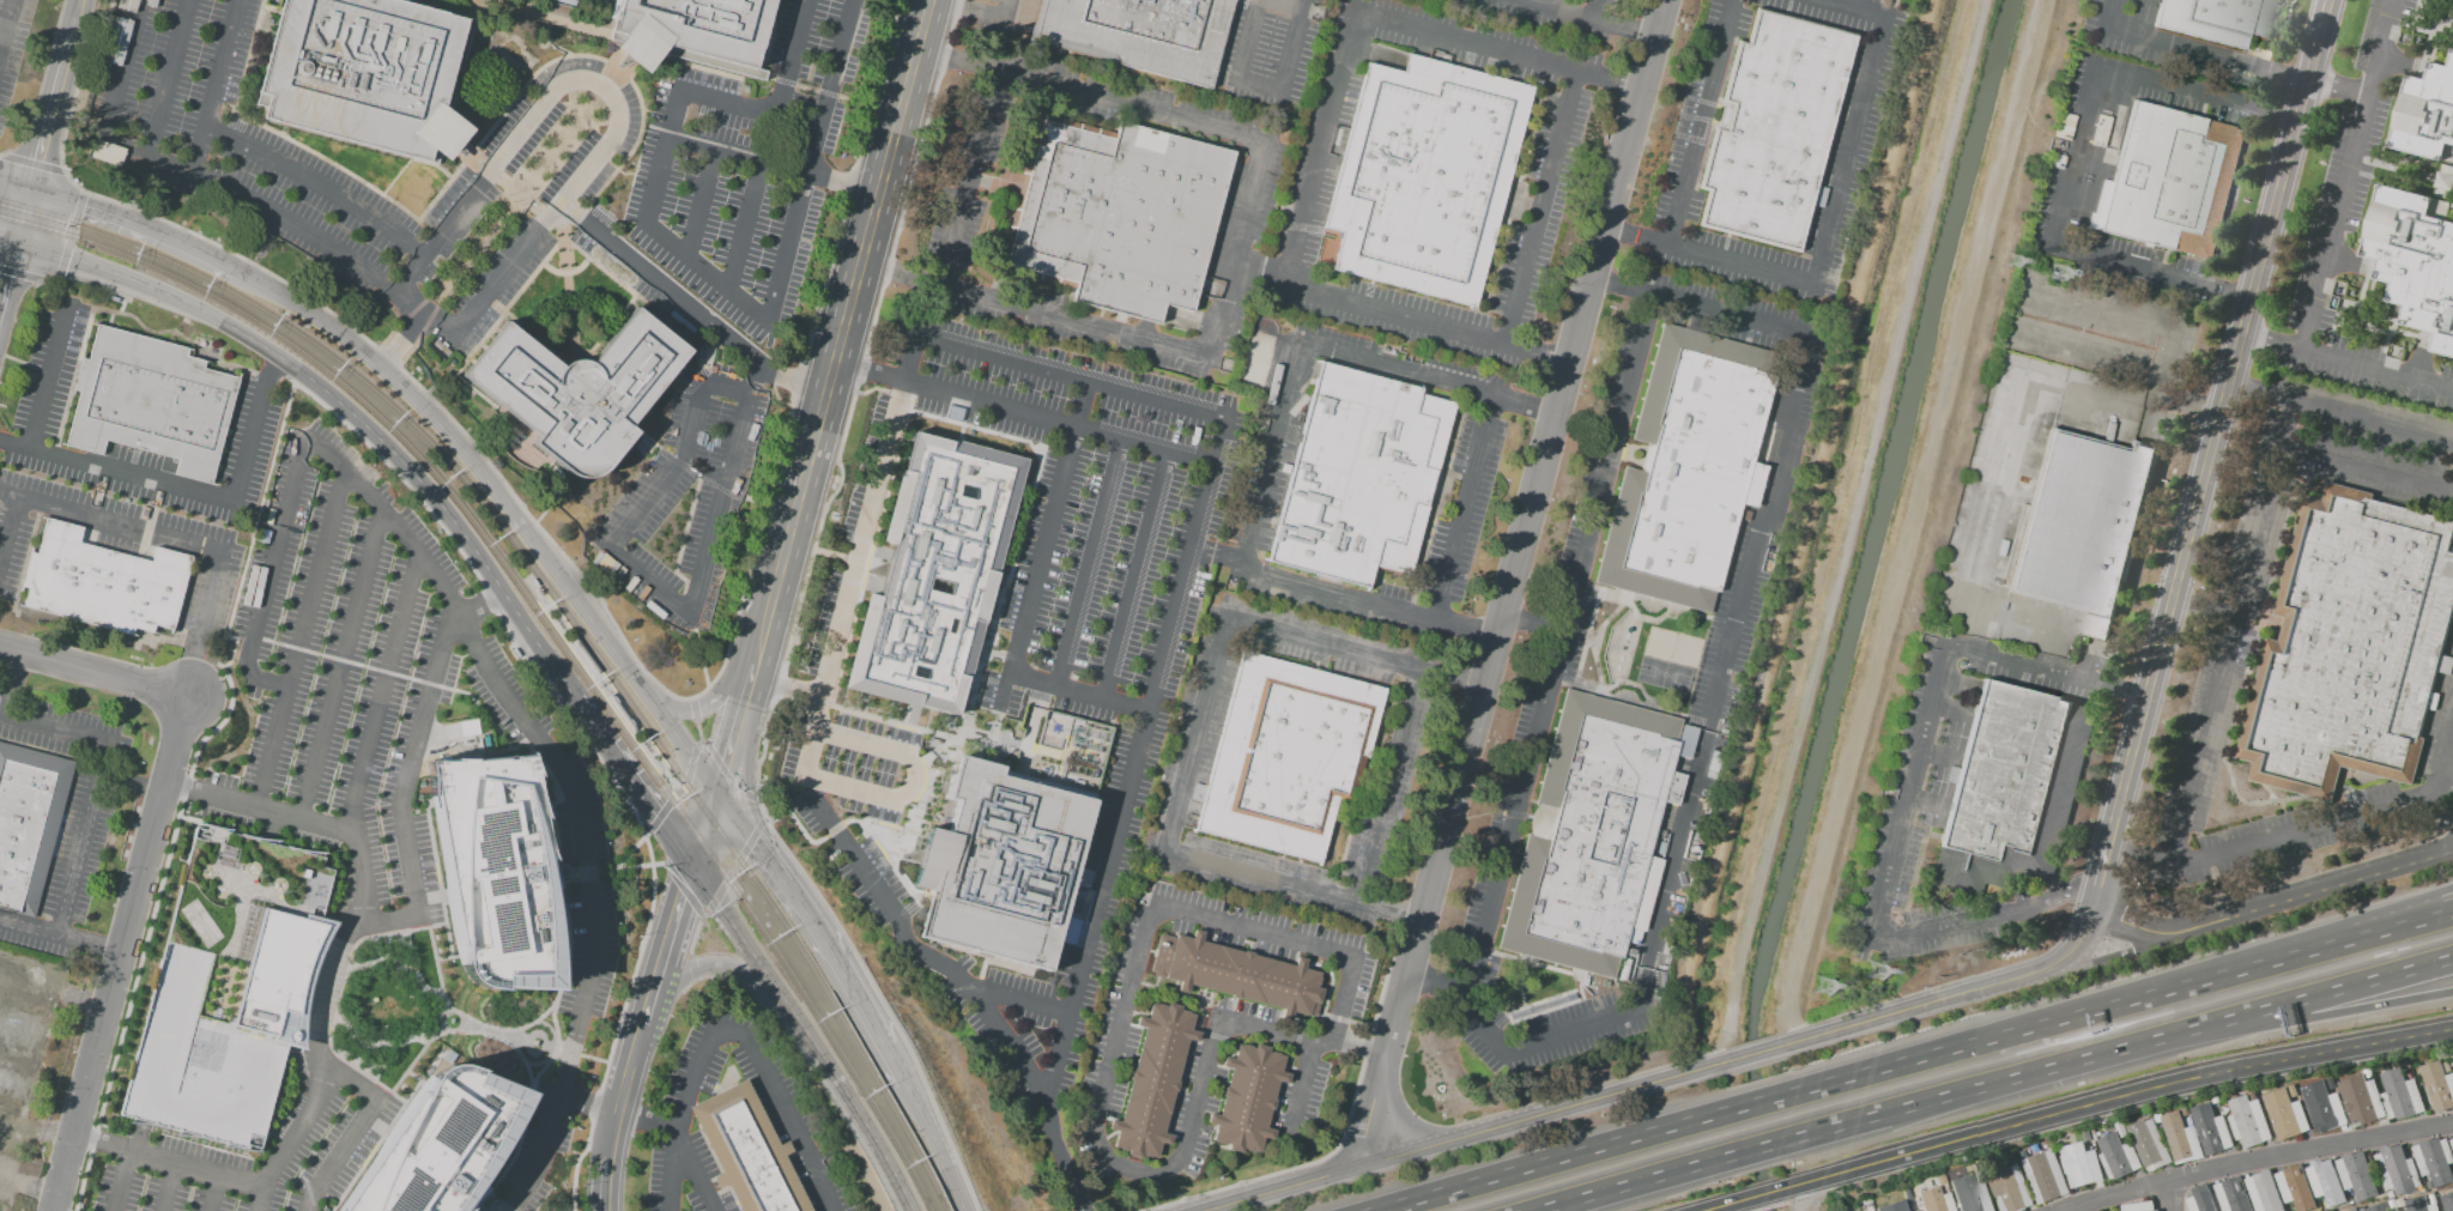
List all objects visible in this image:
road: (1294, 2)
road: (1563, 12)
road: (1007, 13)
road: (964, 16)
building: (2216, 18)
parking lot: (998, 24)
road: (6, 26)
building: (691, 32)
building: (1138, 34)
road: (1249, 40)
road: (1478, 44)
road: (2174, 44)
road: (1294, 46)
parking lot: (1267, 54)
road: (947, 57)
road: (121, 72)
building: (368, 74)
road: (168, 78)
road: (2285, 79)
road: (1617, 84)
road: (217, 85)
road: (604, 85)
road: (1260, 85)
road: (2342, 85)
road: (1123, 104)
road: (747, 108)
road: (2282, 119)
road: (1700, 122)
building: (1773, 128)
building: (2102, 132)
road: (1322, 144)
road: (2073, 153)
road: (2, 155)
road: (735, 155)
road: (41, 158)
road: (32, 164)
road: (759, 165)
road: (2348, 174)
building: (1424, 176)
road: (656, 177)
road: (969, 177)
building: (2170, 181)
road: (317, 182)
road: (840, 184)
road: (17, 188)
traffic signals: (34, 193)
road: (1837, 204)
railway: (13, 208)
road: (1539, 211)
building: (2419, 211)
building: (1118, 216)
railway: (12, 219)
road: (693, 222)
road: (287, 223)
road: (135, 225)
road: (1624, 232)
road: (71, 235)
road: (8, 243)
traffic signals: (18, 247)
road: (1235, 254)
power tower: (2007, 261)
power tower: (2051, 274)
road: (20, 275)
road: (81, 281)
road: (900, 281)
road: (658, 283)
road: (1612, 283)
road: (2234, 296)
road: (770, 307)
road: (1362, 307)
road: (1719, 310)
road: (1072, 322)
road: (837, 338)
road: (2265, 338)
road: (401, 340)
road: (2169, 350)
road: (2368, 365)
road: (272, 371)
road: (867, 371)
road: (48, 374)
road: (788, 379)
road: (1095, 382)
park: (2422, 387)
road: (729, 388)
road: (2260, 388)
road: (2031, 390)
building: (576, 392)
road: (2187, 394)
building: (151, 401)
road: (343, 411)
road: (2369, 418)
road: (1059, 420)
road: (2223, 423)
road: (248, 441)
road: (4, 442)
building: (644, 444)
road: (476, 447)
building: (640, 452)
road: (1270, 454)
road: (465, 455)
railway: (453, 466)
road: (2367, 467)
building: (1688, 468)
road: (120, 471)
road: (671, 471)
building: (1359, 477)
road: (701, 479)
road: (562, 484)
railway: (448, 486)
road: (363, 492)
road: (1, 494)
road: (756, 503)
road: (1464, 510)
building: (1745, 515)
road: (1852, 515)
road: (1837, 516)
road: (115, 525)
building: (2083, 526)
road: (8, 534)
road: (680, 549)
road: (1217, 555)
road: (835, 556)
road: (859, 556)
road: (1088, 563)
road: (1036, 567)
building: (935, 574)
road: (1135, 575)
road: (268, 576)
road: (648, 581)
building: (103, 583)
road: (1514, 583)
railway: (535, 603)
road: (478, 606)
road: (213, 607)
road: (2231, 628)
road: (793, 629)
road: (1534, 631)
road: (299, 640)
building: (2351, 644)
road: (1561, 649)
road: (698, 650)
building: (583, 655)
building: (2446, 665)
road: (343, 666)
road: (2035, 670)
road: (95, 671)
road: (431, 676)
road: (194, 678)
road: (8, 683)
road: (743, 688)
road: (1079, 694)
road: (782, 697)
road: (2137, 697)
building: (2433, 701)
road: (699, 708)
road: (693, 709)
building: (620, 714)
road: (698, 727)
road: (54, 729)
road: (1703, 732)
road: (1194, 739)
road: (679, 741)
road: (726, 744)
road: (2443, 753)
building: (1286, 756)
road: (1135, 759)
road: (361, 764)
road: (690, 770)
road: (746, 770)
road: (725, 773)
road: (2446, 777)
road: (915, 779)
road: (671, 781)
road: (631, 782)
road: (132, 785)
road: (1909, 788)
road: (182, 789)
traffic signals: (713, 789)
road: (1389, 789)
building: (2013, 793)
road: (732, 815)
road: (660, 816)
building: (29, 825)
road: (702, 828)
road: (2291, 832)
building: (1592, 836)
road: (83, 838)
building: (1012, 842)
road: (2130, 850)
road: (583, 867)
traffic signals: (691, 867)
building: (491, 868)
road: (613, 868)
road: (733, 868)
road: (361, 878)
road: (683, 890)
road: (412, 897)
road: (794, 900)
road: (2096, 902)
road: (2273, 903)
road: (2376, 920)
road: (35, 928)
road: (672, 928)
road: (1926, 931)
road: (693, 937)
road: (97, 945)
road: (913, 949)
road: (746, 950)
road: (122, 953)
road: (721, 965)
road: (693, 970)
power tower: (1867, 973)
building: (1236, 974)
road: (30, 982)
building: (228, 987)
power tower: (1816, 987)
building: (0, 988)
road: (2334, 992)
road: (84, 999)
road: (1020, 1003)
road: (2119, 1003)
road: (860, 1004)
road: (1930, 1004)
park: (387, 1005)
road: (648, 1009)
road: (321, 1013)
road: (2336, 1015)
road: (1118, 1030)
road: (1484, 1034)
road: (733, 1035)
railway: (852, 1039)
road: (901, 1039)
road: (1716, 1046)
building: (20, 1049)
railway: (842, 1052)
road: (1754, 1054)
road: (895, 1065)
building: (2448, 1066)
building: (1152, 1079)
road: (2003, 1084)
road: (355, 1085)
building: (2439, 1085)
road: (624, 1089)
road: (1300, 1089)
building: (2294, 1090)
building: (2253, 1094)
building: (2400, 1095)
road: (2119, 1097)
building: (2362, 1098)
building: (1247, 1100)
building: (2215, 1100)
road: (587, 1102)
road: (1756, 1106)
building: (2324, 1106)
building: (2185, 1110)
building: (2285, 1114)
road: (644, 1120)
road: (858, 1120)
building: (2249, 1120)
road: (14, 1127)
building: (2211, 1128)
building: (2121, 1130)
road: (1344, 1131)
building: (2088, 1136)
road: (1467, 1137)
road: (80, 1138)
building: (2181, 1138)
building: (2452, 1140)
building: (2047, 1142)
building: (2149, 1143)
building: (434, 1144)
road: (934, 1145)
building: (747, 1152)
road: (1758, 1152)
building: (2023, 1154)
building: (2118, 1156)
road: (1060, 1157)
building: (2436, 1159)
road: (2254, 1161)
road: (1557, 1162)
building: (2080, 1164)
building: (2397, 1169)
road: (691, 1170)
road: (207, 1173)
building: (2357, 1174)
building: (2045, 1176)
road: (7, 1181)
road: (122, 1181)
road: (604, 1181)
building: (2325, 1181)
road: (1640, 1186)
road: (168, 1187)
road: (522, 1187)
building: (2296, 1187)
building: (2009, 1188)
road: (37, 1189)
building: (2264, 1192)
road: (213, 1193)
building: (1972, 1194)
road: (2173, 1194)
building: (2233, 1194)
building: (2391, 1194)
road: (1761, 1197)
building: (2200, 1199)
building: (1936, 1200)
building: (1918, 1201)
building: (2448, 1201)
building: (2392, 1204)
building: (1900, 1205)
building: (2419, 1205)
building: (2139, 1206)
road: (1721, 1207)
building: (2379, 1207)
building: (4, 1209)
building: (2362, 1209)
road: (1720, 1210)
building: (2354, 1210)

